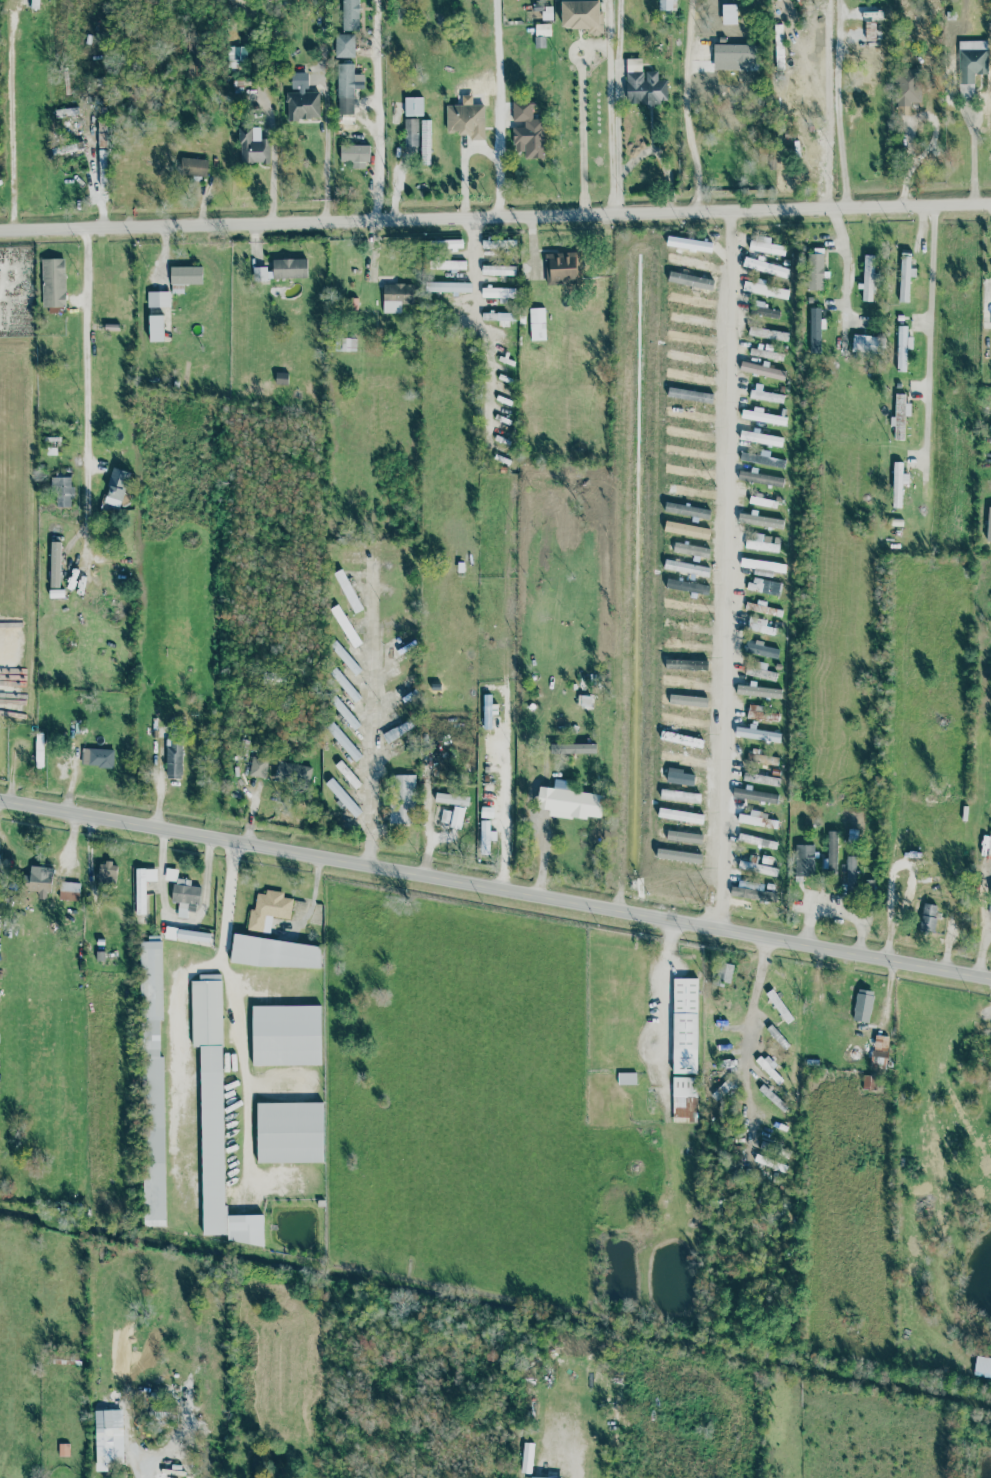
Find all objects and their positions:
building: (34, 4)
building: (666, 5)
building: (350, 15)
building: (582, 15)
building: (541, 34)
building: (344, 45)
building: (777, 47)
building: (734, 56)
building: (193, 60)
building: (971, 65)
building: (346, 88)
building: (644, 88)
building: (906, 89)
building: (301, 99)
building: (413, 106)
road: (616, 106)
road: (686, 106)
road: (508, 107)
road: (377, 110)
road: (11, 117)
building: (465, 120)
road: (841, 124)
building: (527, 131)
building: (410, 132)
road: (581, 133)
building: (425, 140)
building: (252, 147)
road: (325, 148)
building: (354, 155)
road: (273, 159)
building: (192, 167)
building: (102, 168)
road: (681, 211)
road: (185, 224)
building: (498, 243)
building: (445, 244)
building: (766, 247)
road: (371, 248)
building: (448, 264)
building: (765, 267)
road: (845, 267)
building: (289, 268)
building: (560, 268)
building: (815, 269)
building: (497, 270)
building: (262, 273)
building: (185, 275)
building: (867, 277)
building: (904, 277)
building: (53, 282)
building: (448, 286)
building: (765, 289)
building: (498, 292)
building: (394, 297)
building: (158, 299)
building: (764, 312)
building: (499, 317)
building: (537, 324)
building: (155, 328)
road: (480, 328)
building: (814, 330)
building: (767, 333)
road: (930, 340)
building: (864, 343)
building: (346, 344)
building: (901, 348)
building: (765, 353)
building: (762, 370)
road: (90, 390)
building: (766, 396)
building: (899, 415)
building: (762, 417)
building: (759, 437)
building: (766, 453)
building: (762, 459)
building: (760, 478)
building: (897, 483)
building: (989, 484)
building: (116, 487)
building: (62, 490)
building: (762, 501)
building: (760, 520)
building: (988, 524)
building: (761, 542)
building: (54, 564)
building: (762, 564)
road: (727, 568)
building: (764, 586)
building: (347, 590)
building: (56, 593)
building: (761, 608)
building: (345, 626)
building: (758, 626)
building: (761, 650)
building: (758, 671)
building: (344, 684)
building: (758, 691)
building: (487, 711)
building: (344, 712)
building: (762, 712)
road: (373, 716)
building: (756, 734)
building: (343, 742)
building: (572, 748)
building: (97, 757)
building: (757, 758)
building: (173, 761)
building: (258, 767)
building: (293, 773)
building: (347, 774)
building: (760, 778)
building: (754, 795)
building: (342, 796)
building: (404, 798)
building: (570, 802)
building: (458, 810)
building: (756, 819)
road: (430, 835)
building: (484, 837)
building: (756, 840)
road: (509, 842)
building: (832, 852)
building: (765, 859)
building: (804, 860)
building: (757, 868)
building: (107, 872)
building: (850, 875)
building: (39, 881)
road: (495, 886)
building: (142, 887)
building: (69, 891)
building: (182, 892)
building: (752, 892)
road: (228, 903)
building: (268, 910)
building: (927, 918)
road: (179, 921)
building: (187, 935)
building: (273, 953)
road: (219, 964)
building: (724, 973)
road: (760, 979)
building: (862, 1005)
building: (779, 1006)
road: (668, 1015)
building: (684, 1025)
building: (287, 1035)
building: (777, 1037)
building: (879, 1051)
building: (769, 1068)
building: (153, 1076)
building: (626, 1078)
road: (273, 1085)
building: (723, 1091)
building: (211, 1097)
building: (771, 1097)
building: (684, 1099)
building: (290, 1132)
building: (321, 1203)
building: (246, 1229)
road: (178, 1432)
building: (107, 1438)
road: (145, 1458)
road: (577, 1467)
building: (535, 1477)

